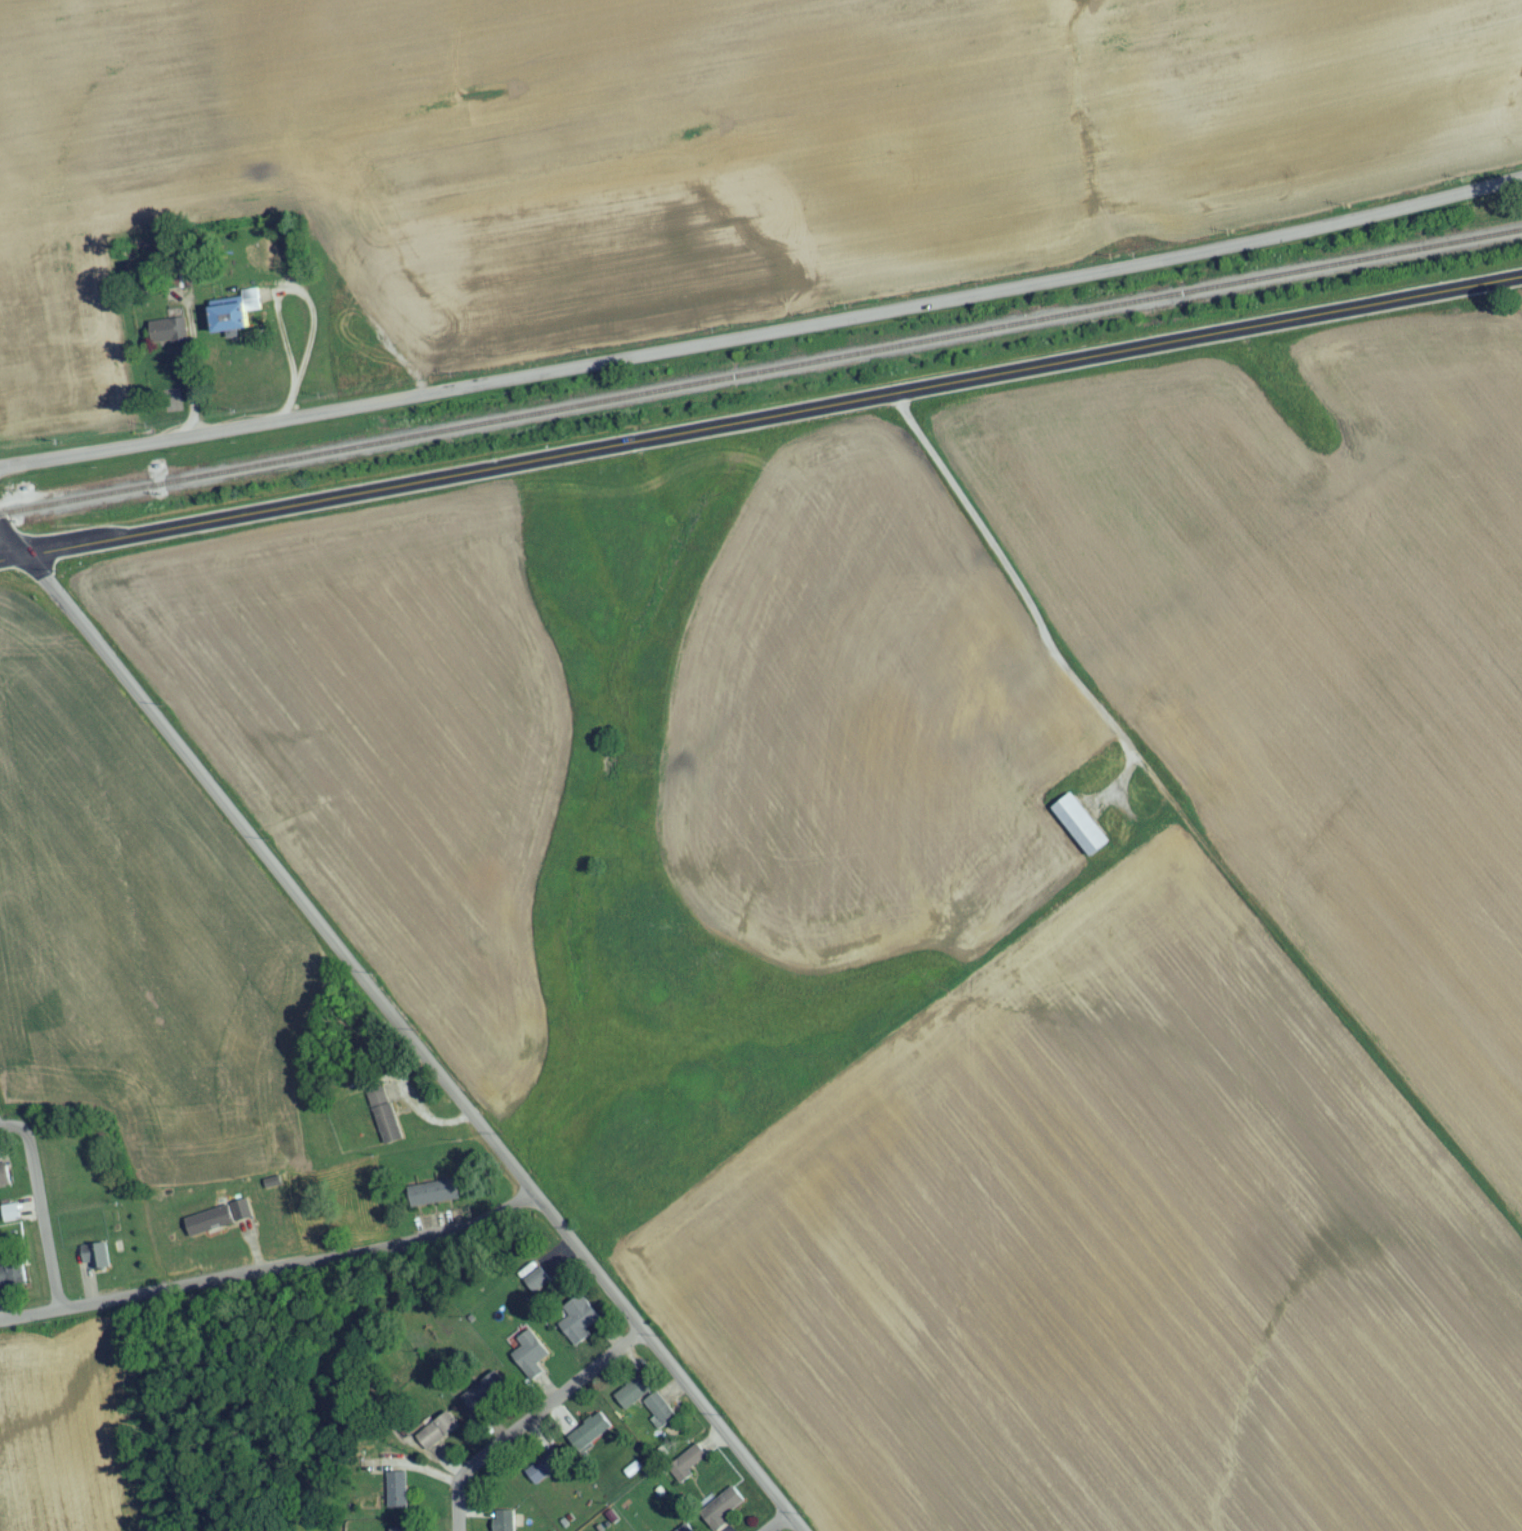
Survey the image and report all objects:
building: (230, 323)
building: (164, 336)
road: (763, 337)
building: (375, 367)
building: (353, 372)
railway: (761, 379)
building: (172, 407)
road: (761, 427)
road: (10, 545)
road: (1012, 579)
road: (95, 651)
building: (1080, 830)
road: (350, 970)
building: (384, 1120)
building: (4, 1182)
building: (433, 1199)
road: (41, 1208)
building: (219, 1224)
building: (94, 1263)
road: (268, 1272)
building: (12, 1280)
building: (537, 1285)
building: (578, 1327)
building: (530, 1361)
road: (664, 1364)
building: (483, 1396)
building: (633, 1399)
building: (659, 1415)
road: (528, 1424)
building: (437, 1437)
building: (589, 1438)
building: (686, 1469)
building: (545, 1472)
building: (396, 1496)
building: (723, 1513)
building: (505, 1523)
road: (782, 1526)
building: (685, 1529)

